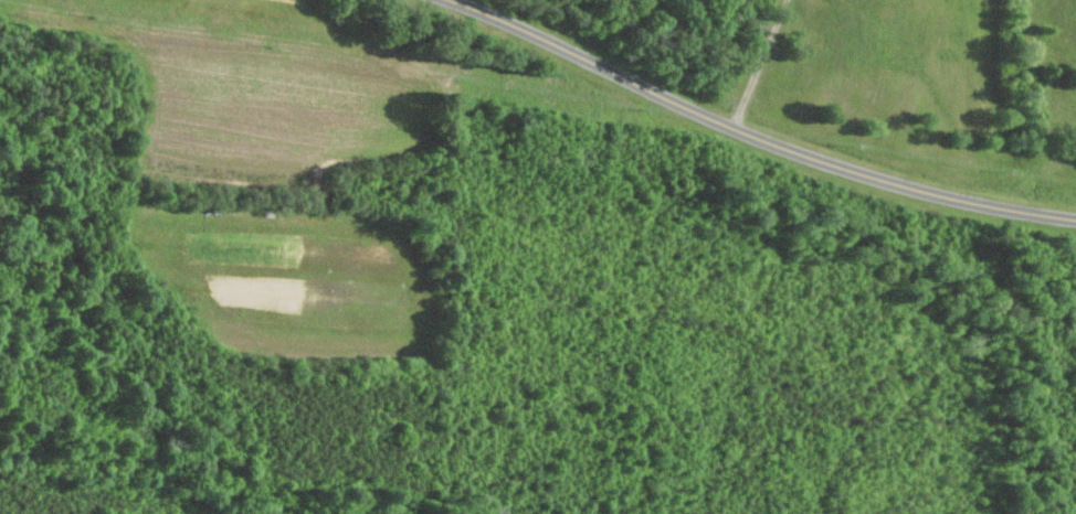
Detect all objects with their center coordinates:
road: (755, 133)
road: (1073, 246)

